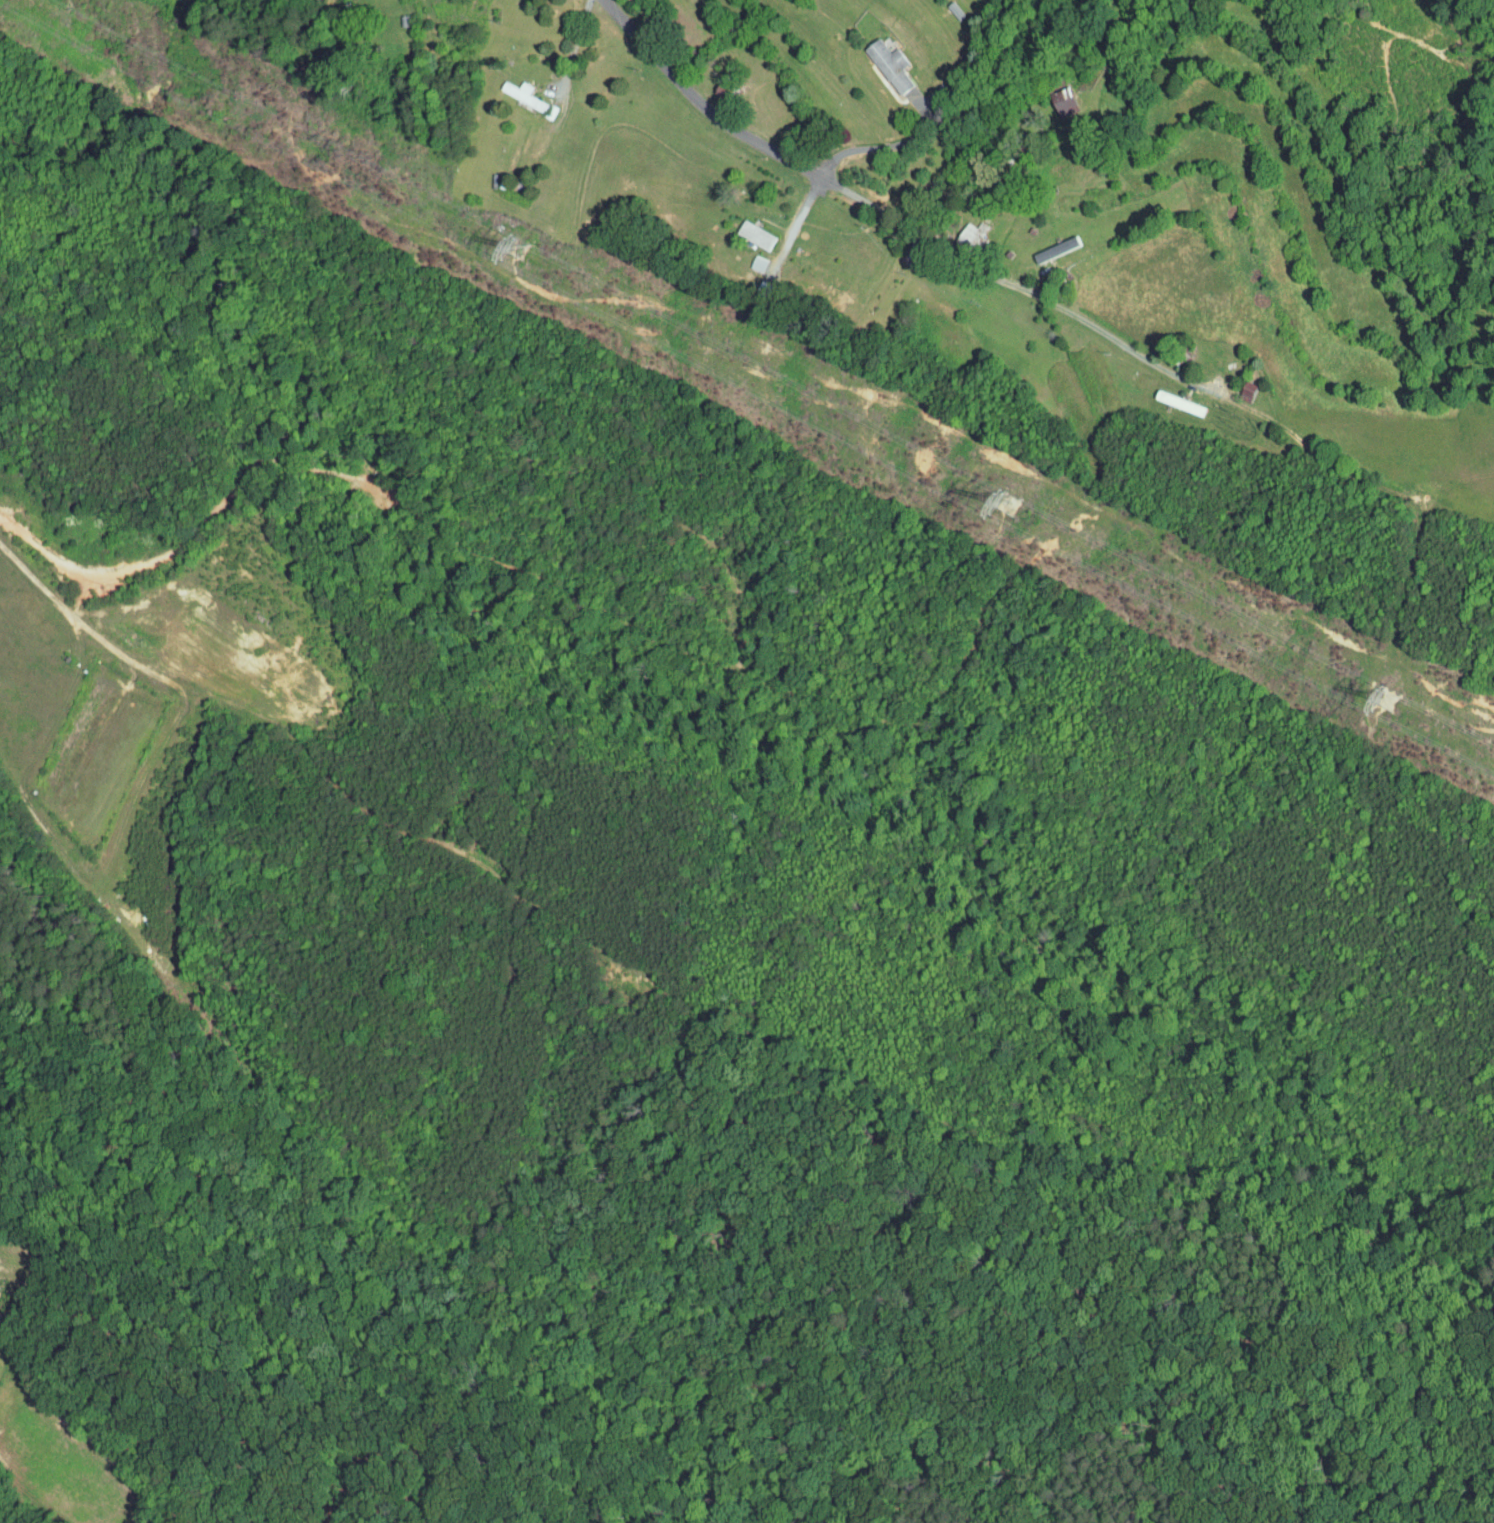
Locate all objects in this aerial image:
road: (574, 46)
building: (877, 59)
building: (510, 88)
road: (711, 108)
road: (870, 142)
road: (793, 215)
building: (743, 229)
building: (959, 230)
building: (1043, 243)
power tower: (514, 255)
building: (746, 258)
road: (1028, 287)
power tower: (1011, 507)
power tower: (1388, 701)

